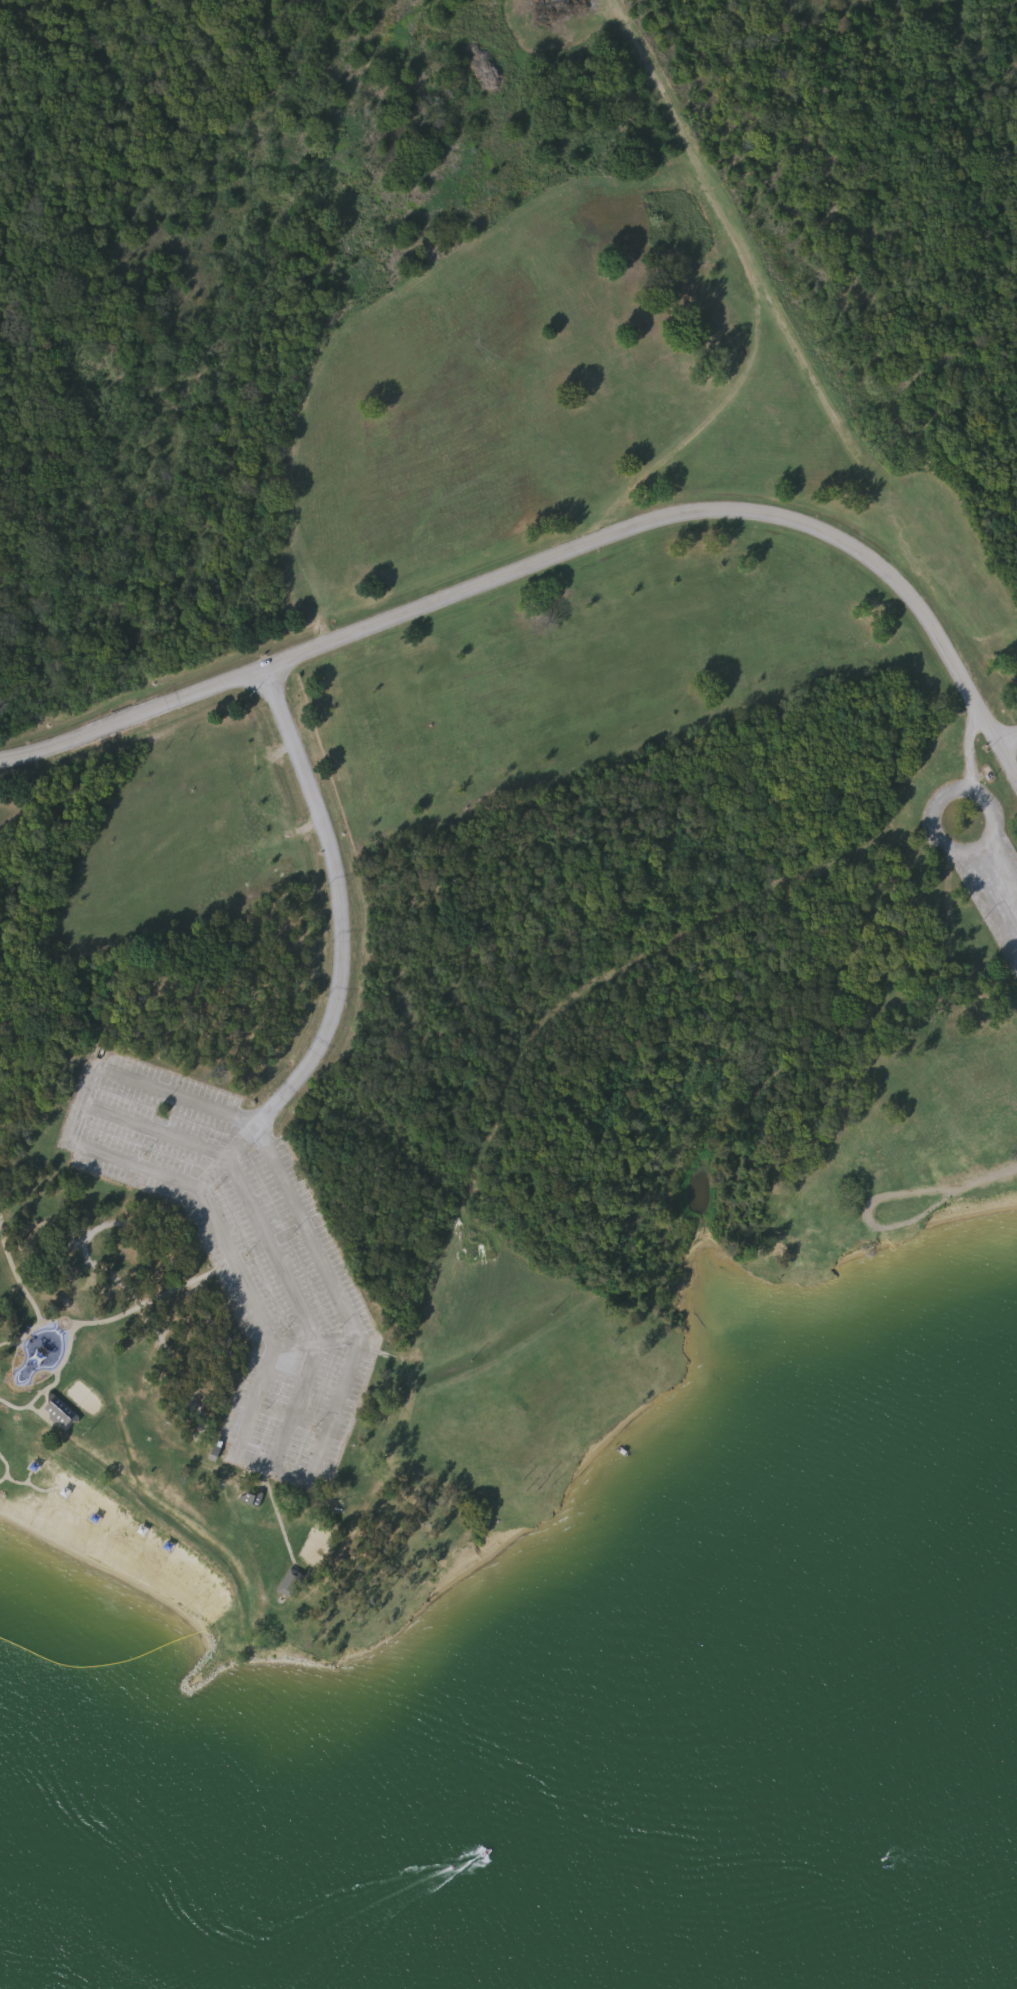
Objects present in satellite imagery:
road: (548, 563)
park: (480, 744)
road: (971, 745)
road: (1010, 755)
road: (931, 825)
road: (1002, 876)
parking lot: (995, 893)
road: (338, 895)
road: (244, 1185)
parking lot: (238, 1229)
road: (234, 1260)
building: (61, 1412)
building: (291, 1582)

